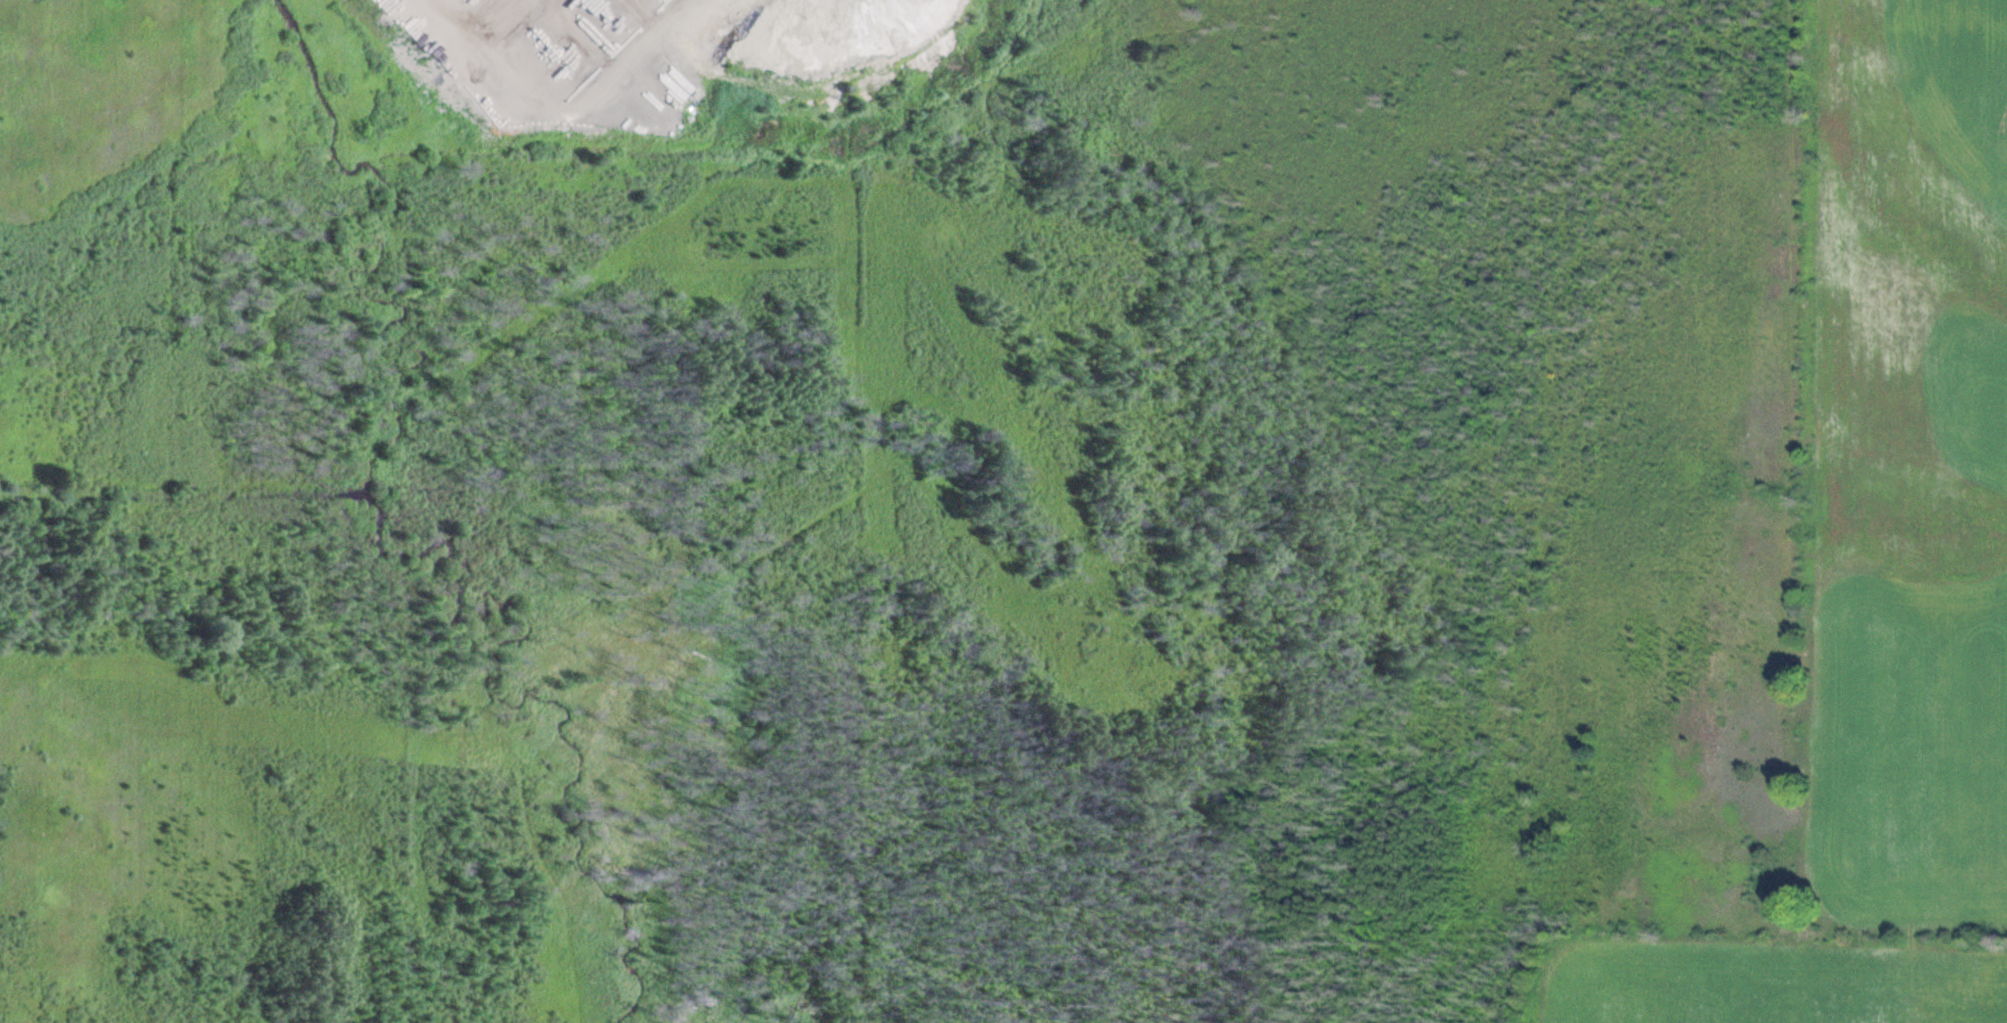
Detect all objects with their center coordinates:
building: (473, 100)

